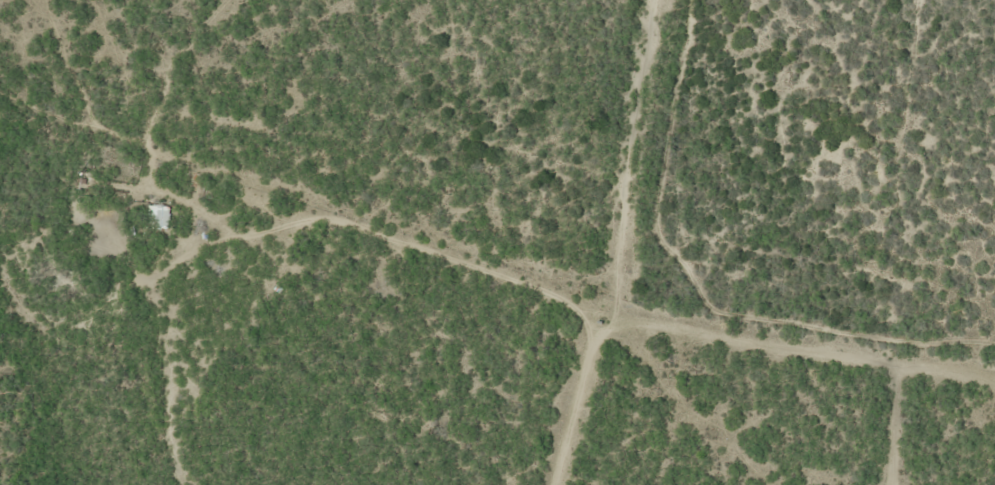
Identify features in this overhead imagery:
building: (158, 217)
road: (142, 377)

